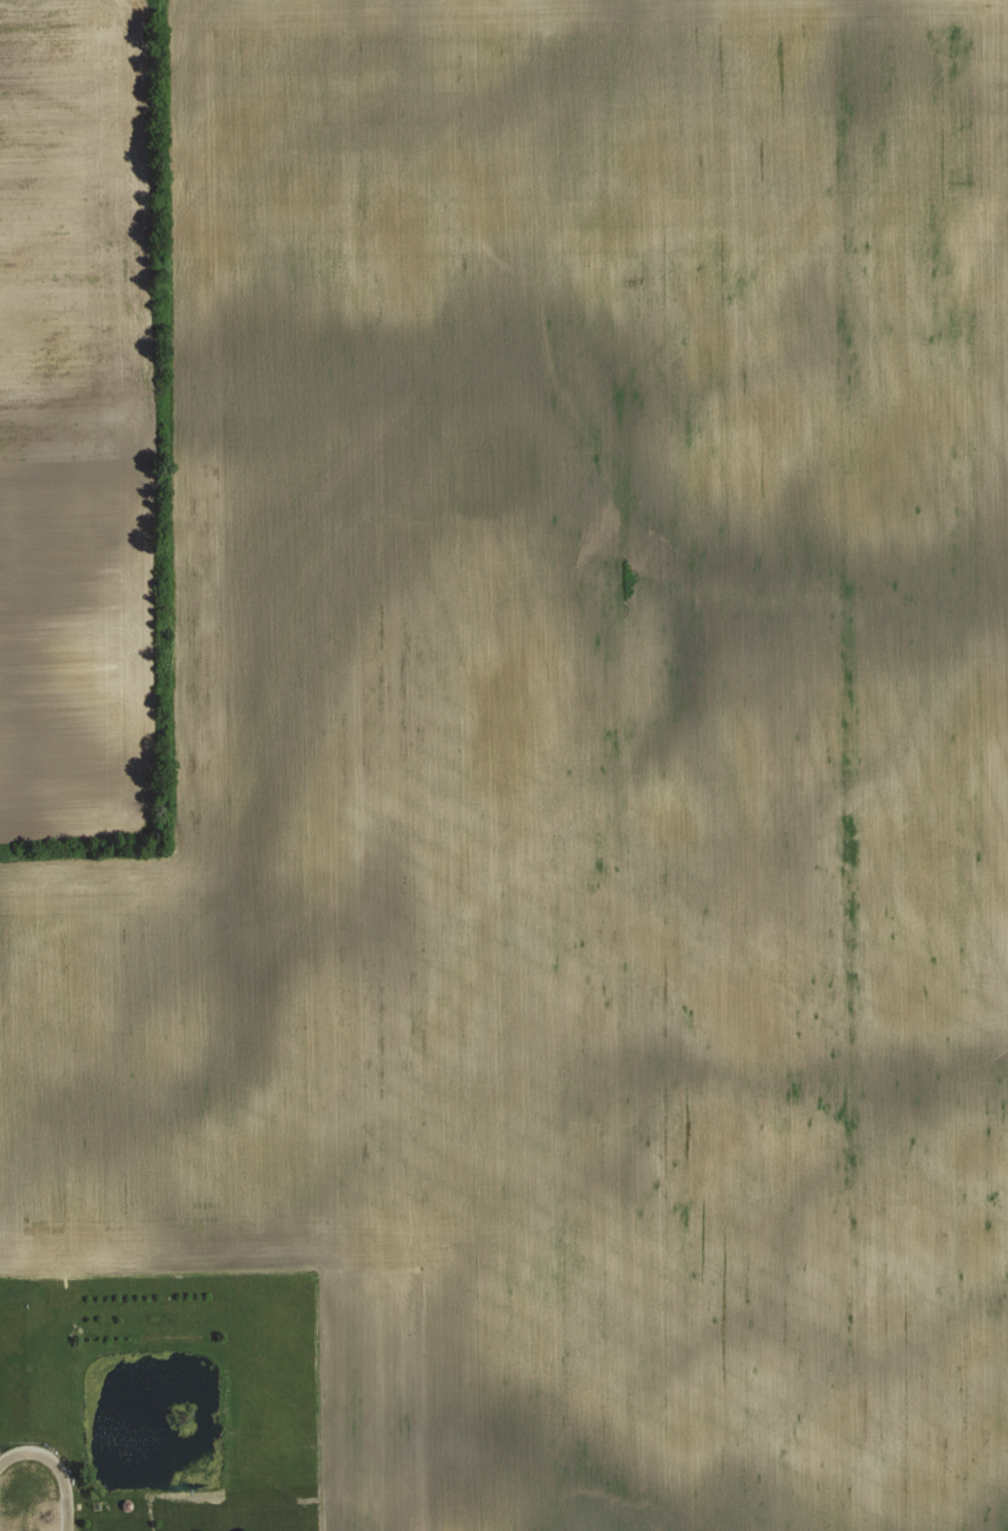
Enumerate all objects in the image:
road: (59, 1463)

